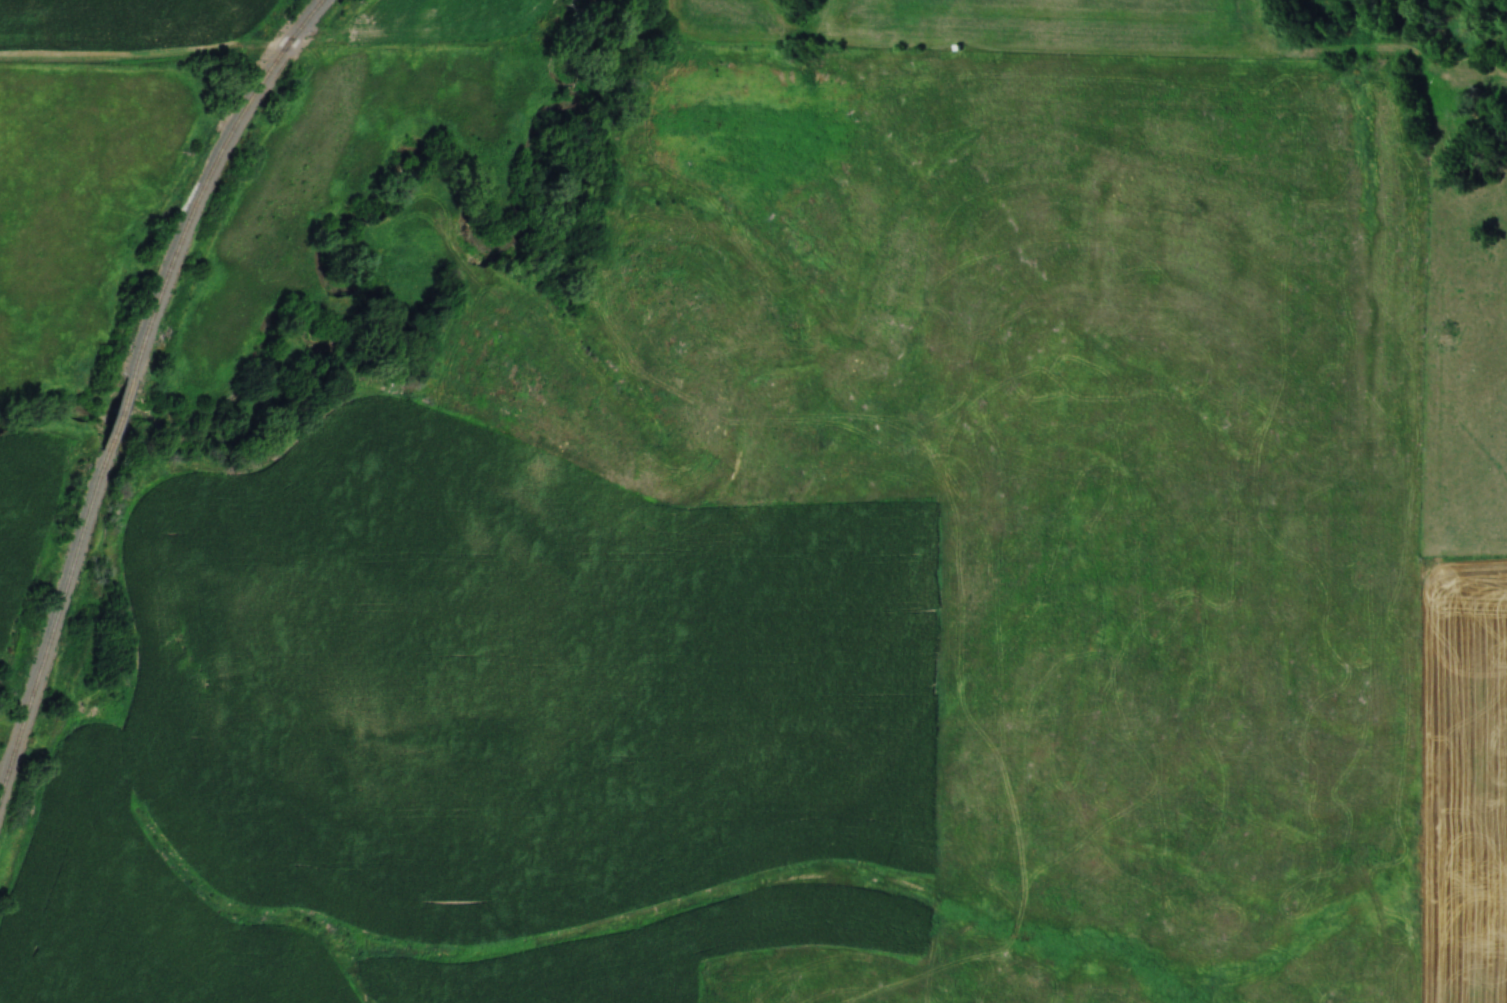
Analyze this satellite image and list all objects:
railway: (127, 381)

